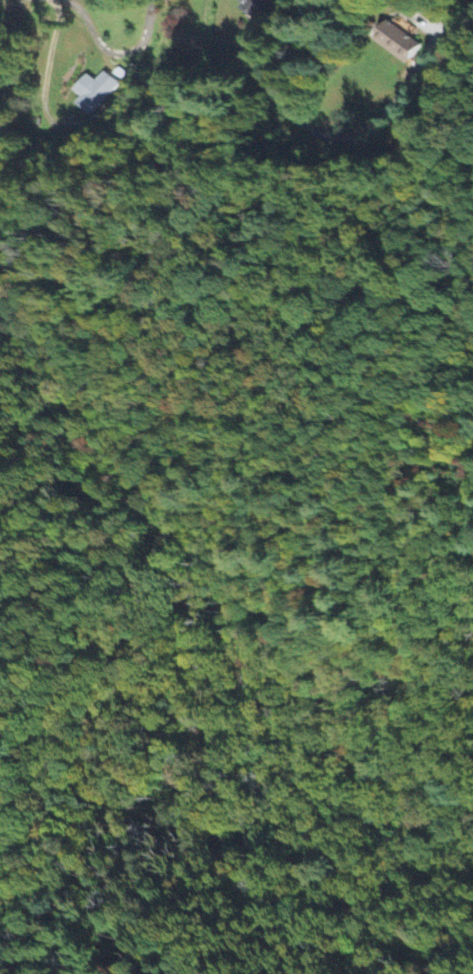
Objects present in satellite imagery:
building: (257, 8)
building: (399, 45)
road: (110, 52)
road: (46, 72)
building: (95, 93)
road: (296, 118)

